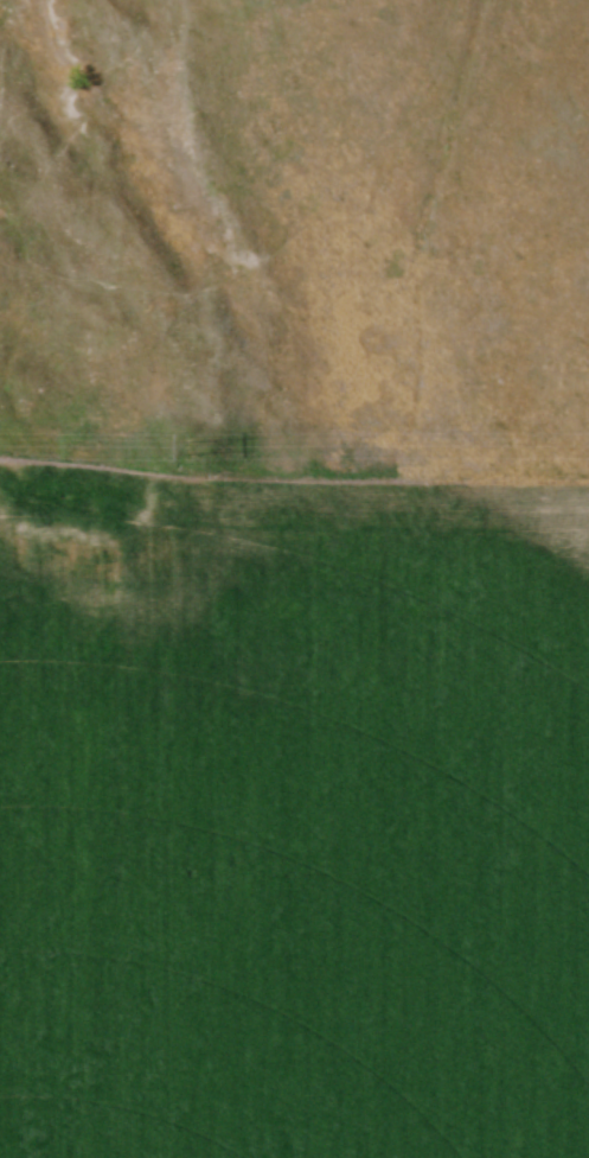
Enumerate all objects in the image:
power tower: (187, 447)

